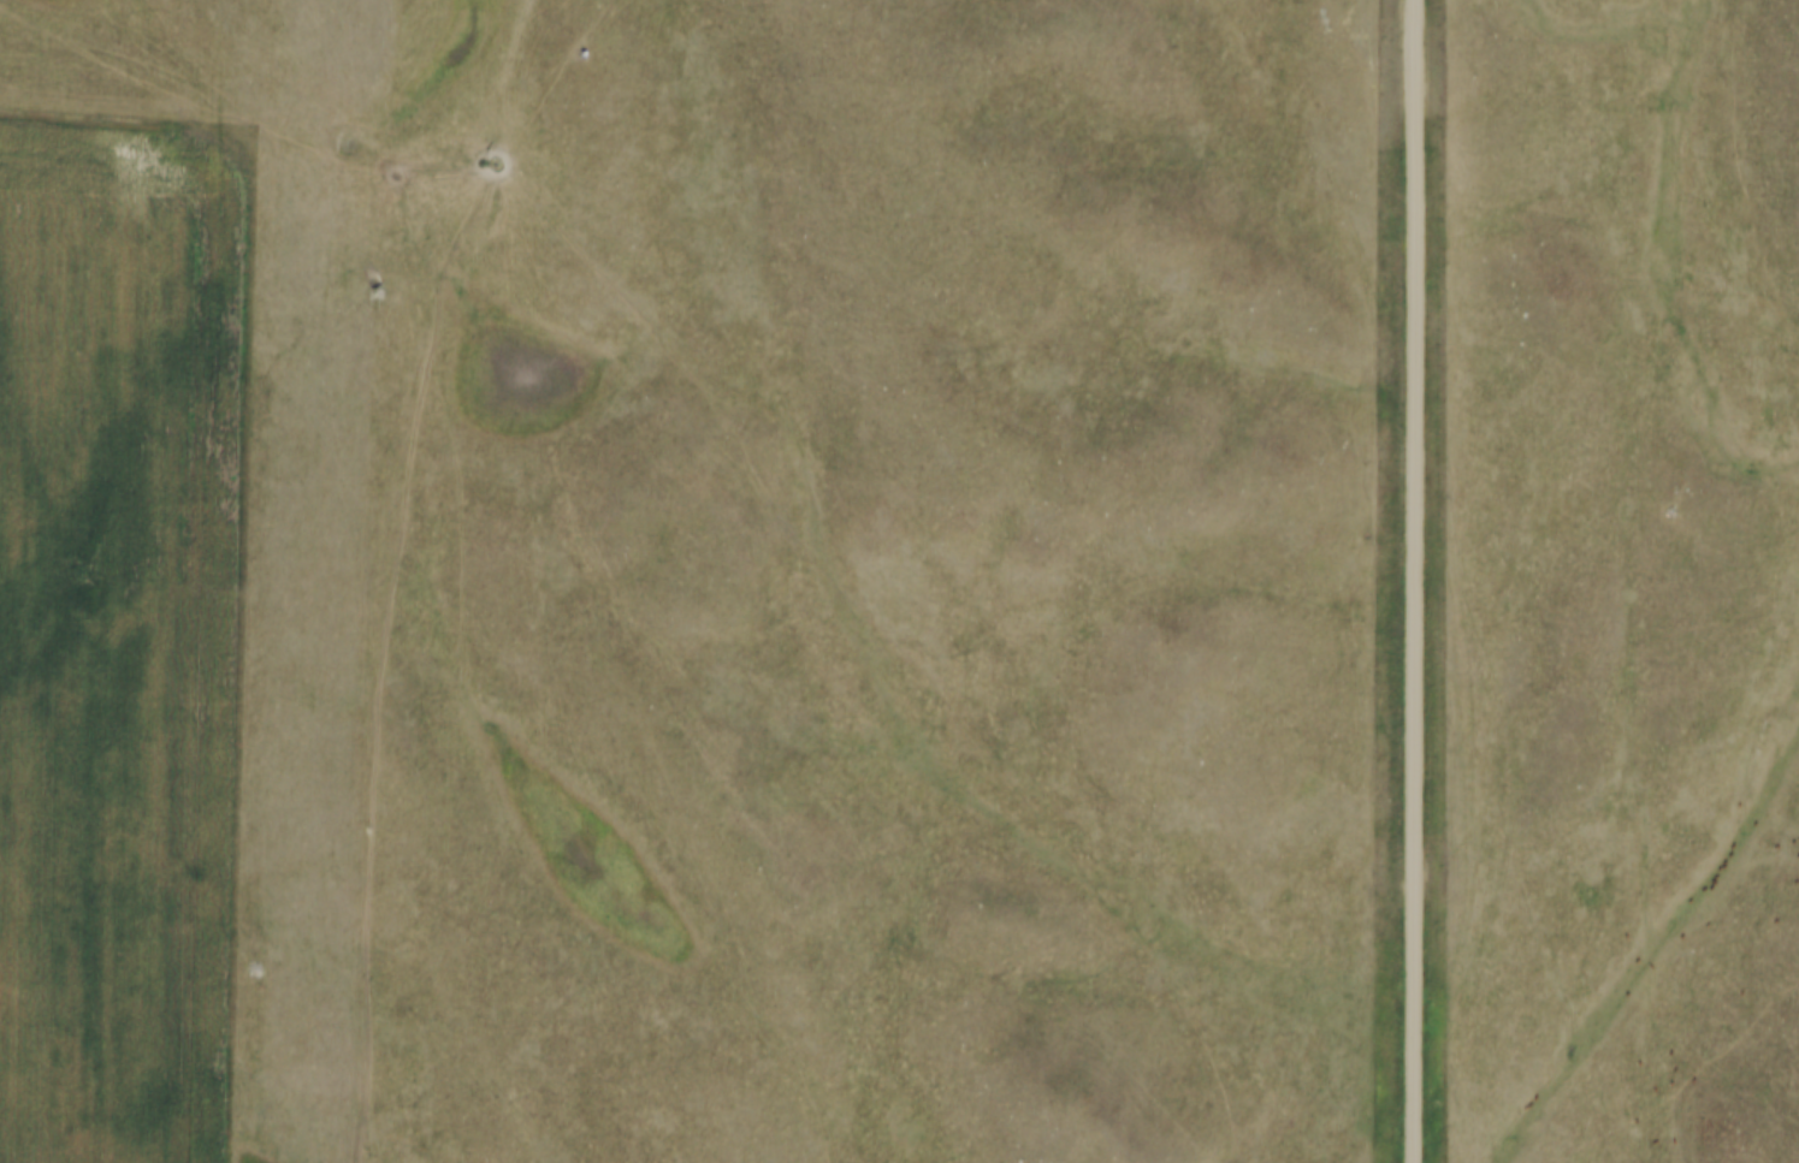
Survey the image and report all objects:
road: (1418, 581)

